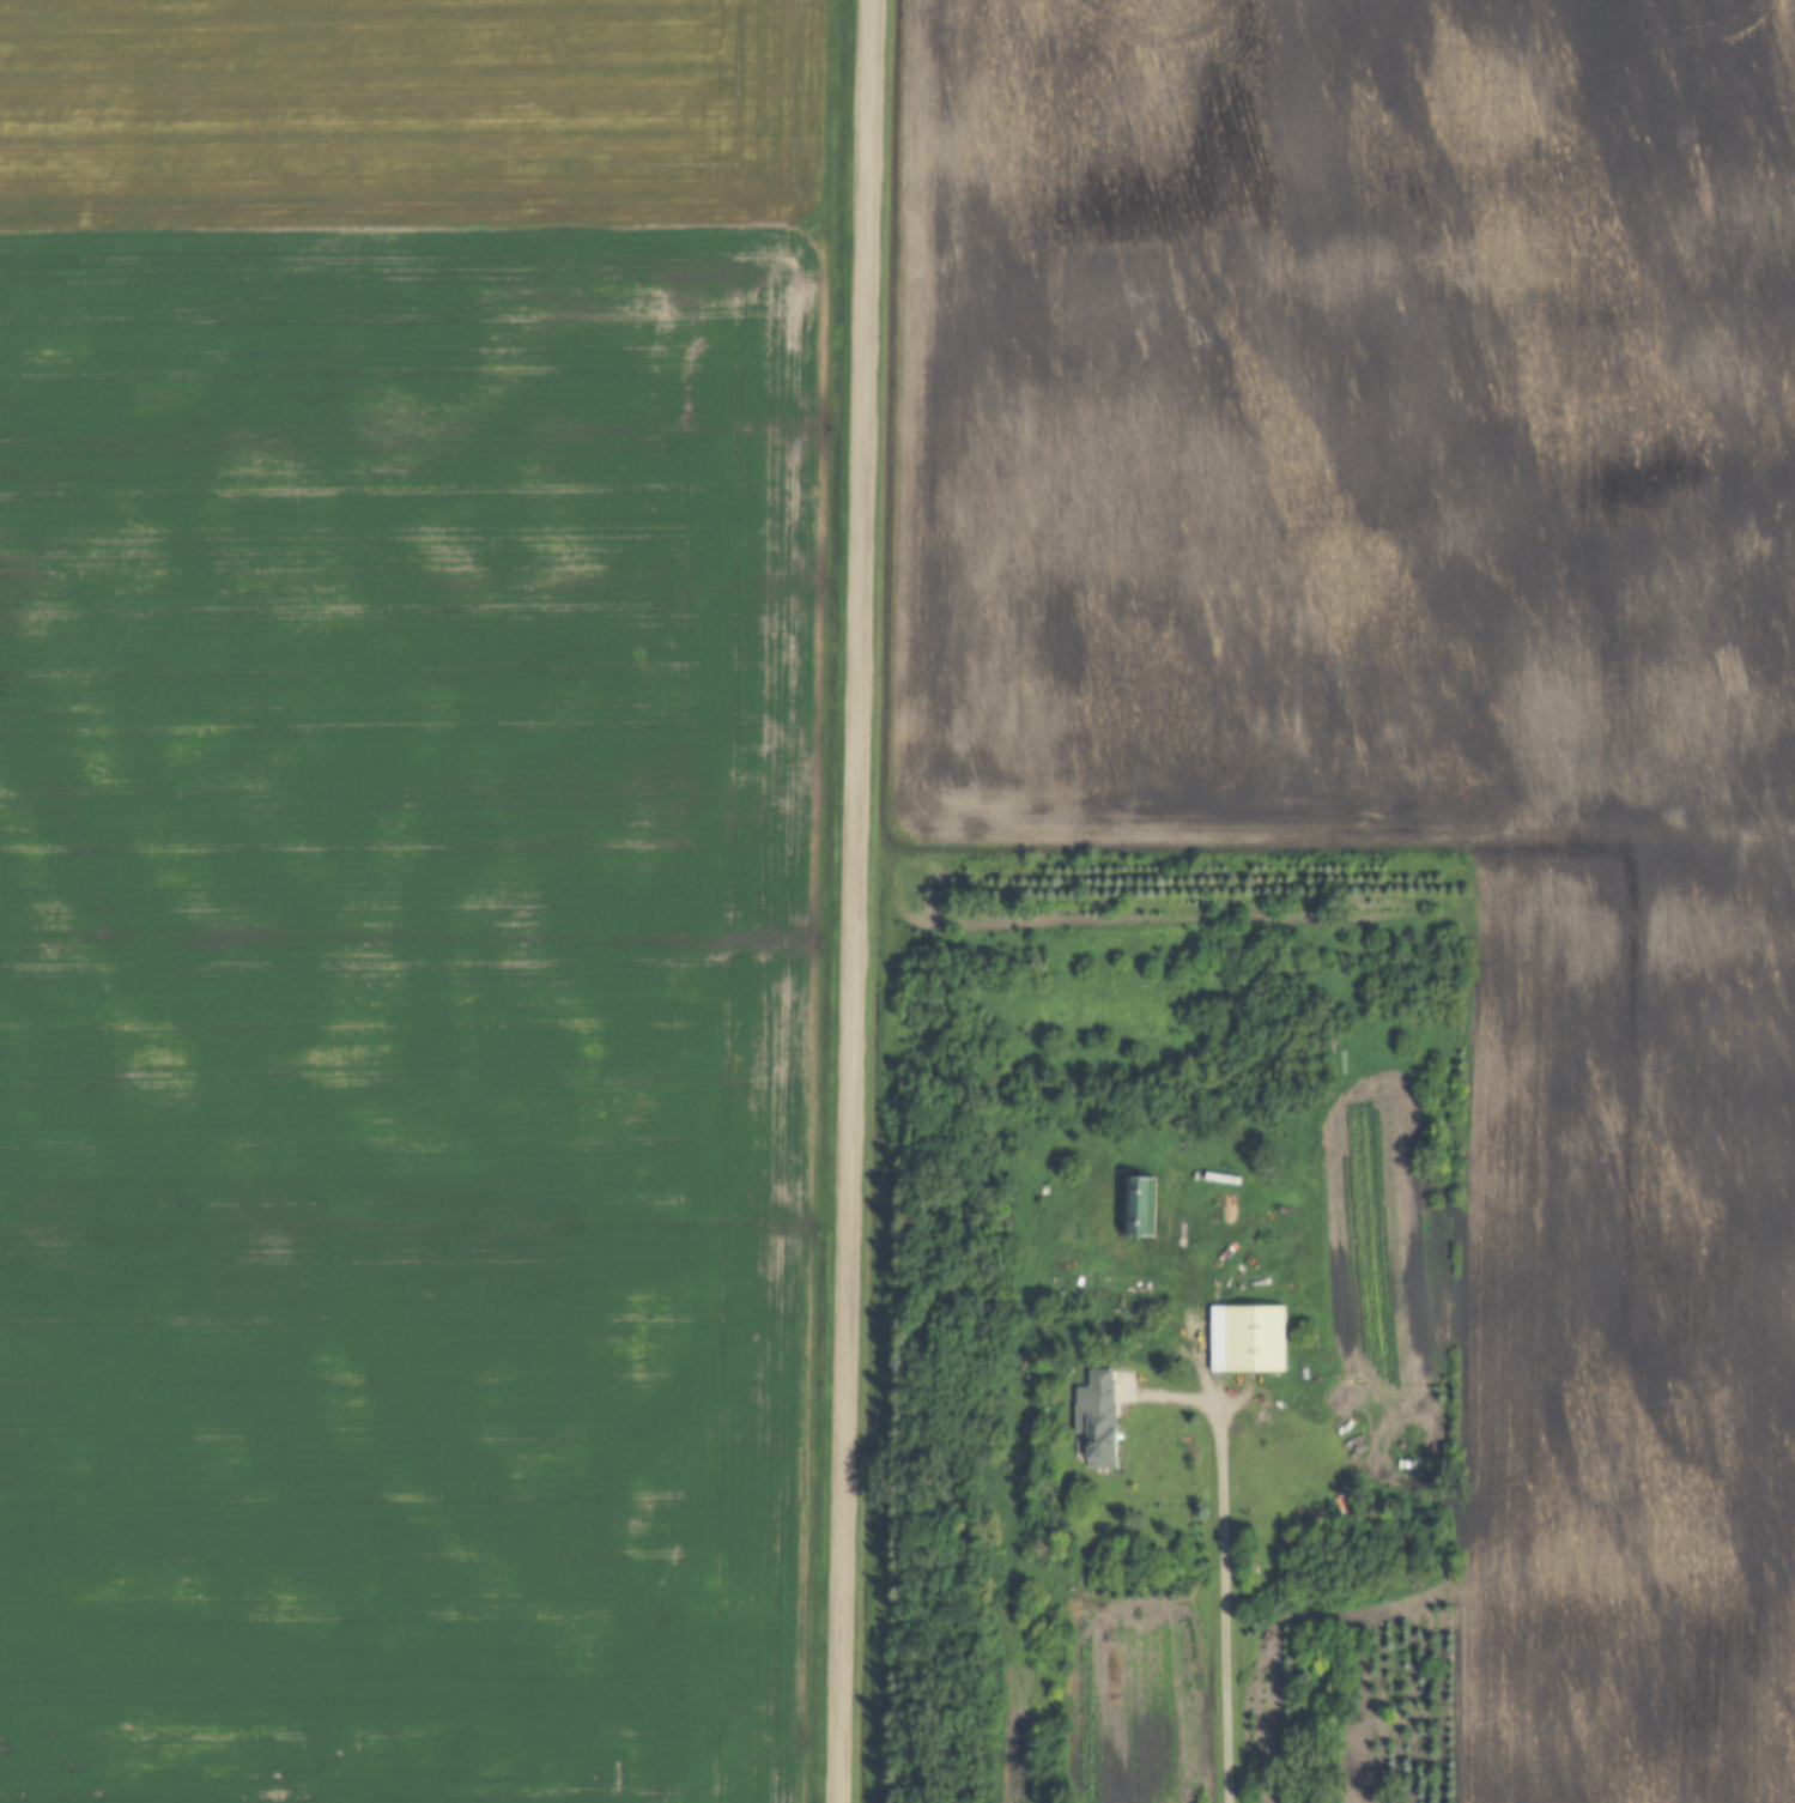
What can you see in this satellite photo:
crop: (1429, 689)
crop: (407, 896)
road: (853, 901)
building: (1140, 1209)
building: (1226, 1211)
building: (1251, 1342)
building: (1092, 1422)
road: (1220, 1557)

